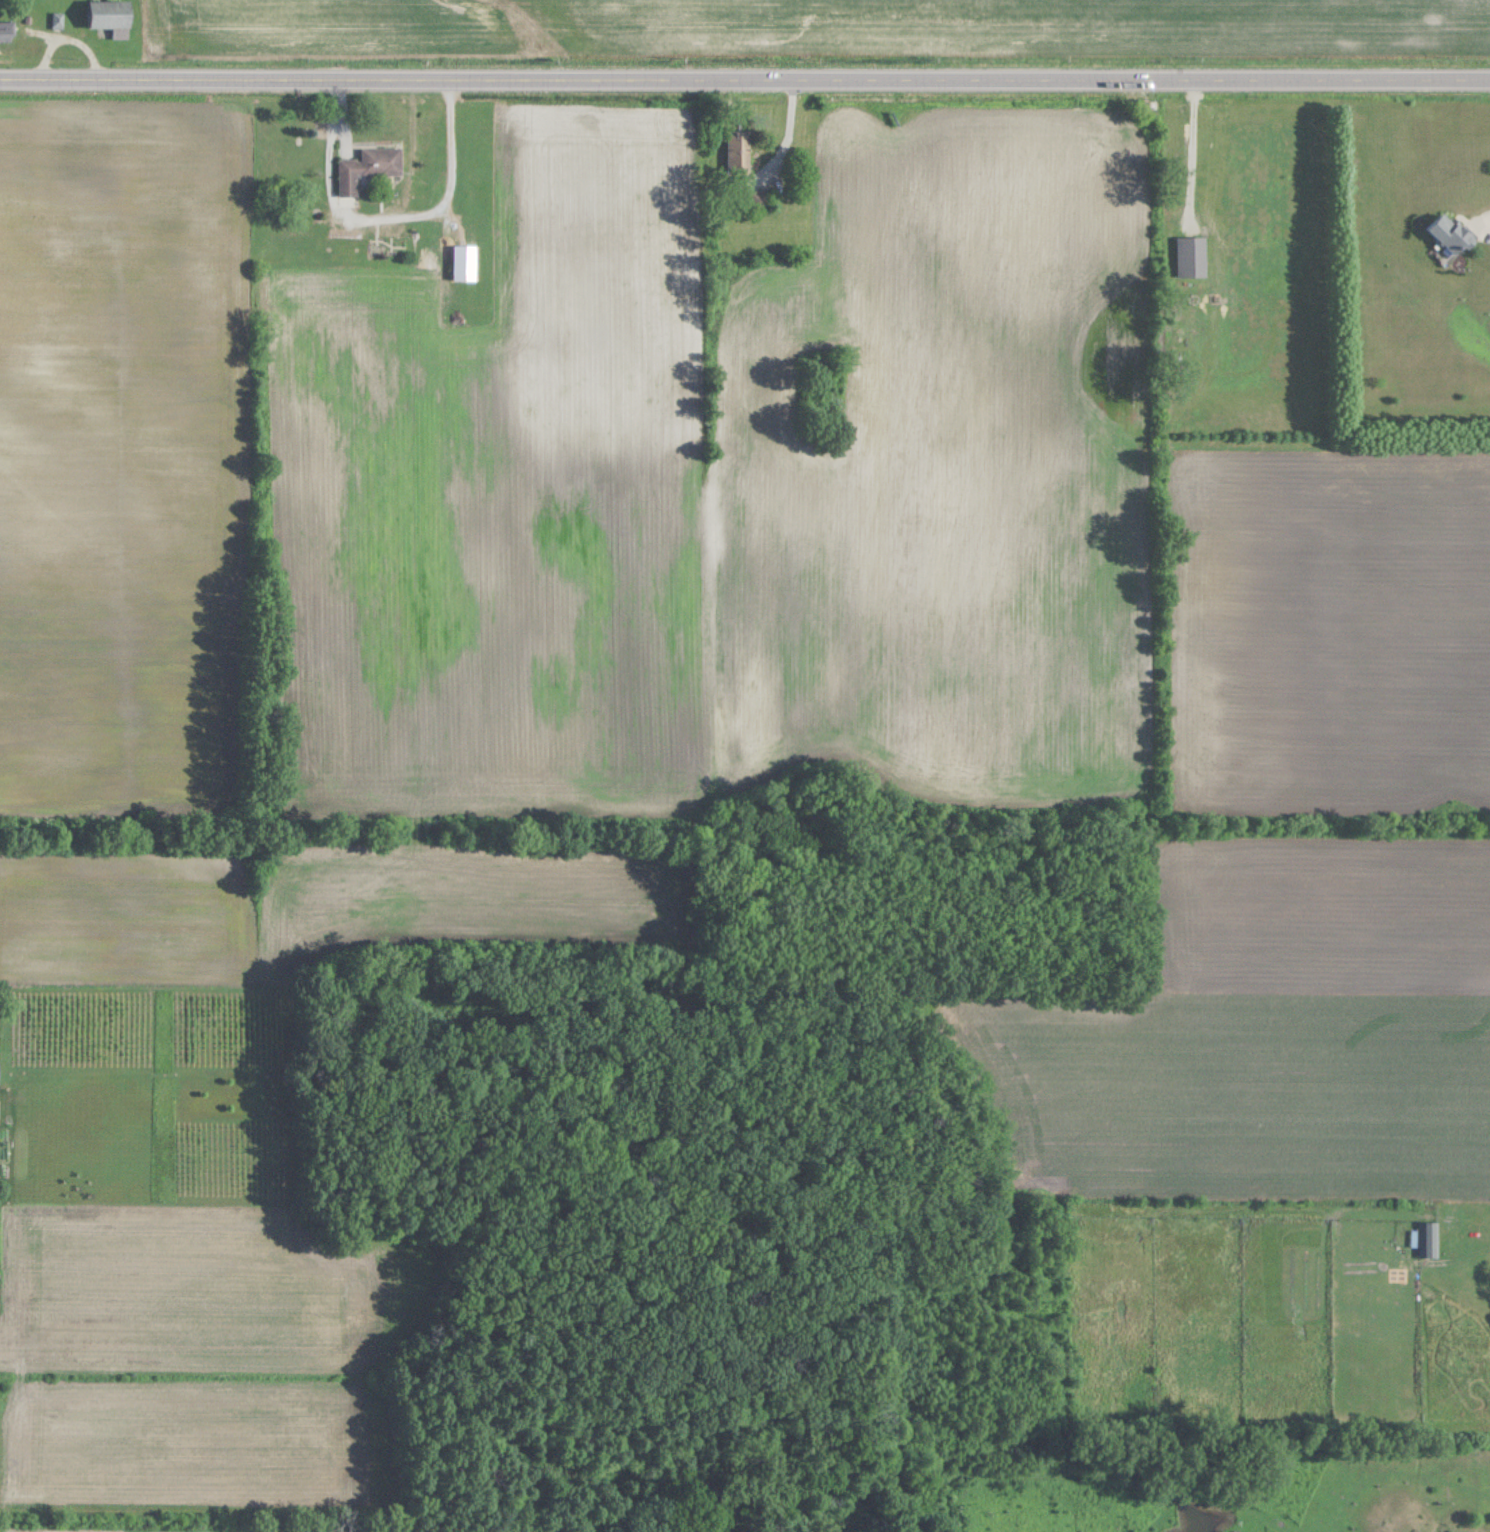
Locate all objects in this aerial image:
building: (113, 14)
building: (7, 32)
road: (73, 35)
road: (744, 88)
road: (787, 141)
building: (740, 154)
road: (327, 165)
building: (370, 167)
road: (446, 203)
building: (1452, 233)
building: (1193, 257)
building: (467, 262)
building: (0, 1072)
building: (1429, 1239)

